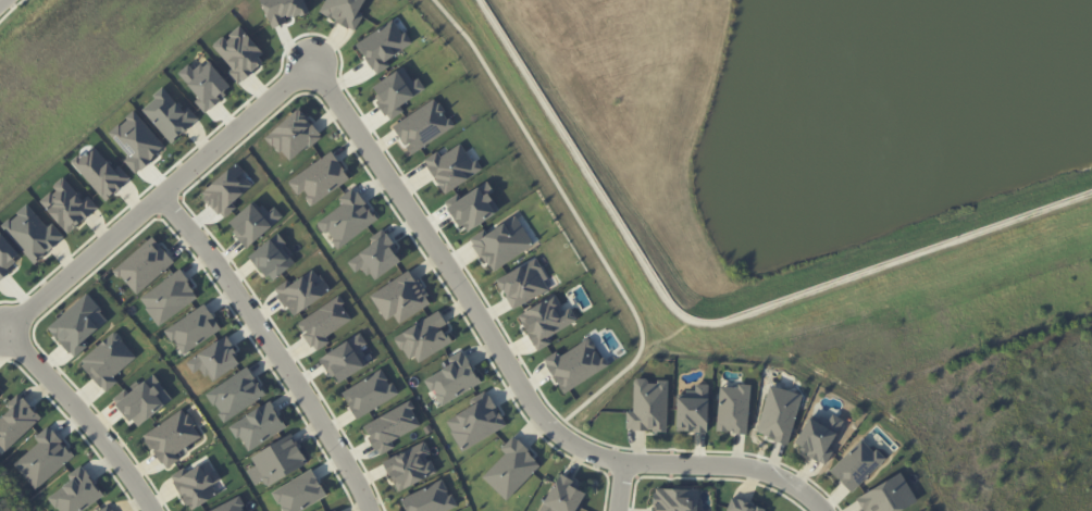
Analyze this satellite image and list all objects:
building: (344, 11)
building: (383, 45)
building: (239, 54)
building: (206, 84)
building: (396, 91)
building: (170, 115)
building: (423, 125)
building: (294, 135)
building: (137, 140)
building: (452, 166)
building: (101, 172)
building: (320, 178)
building: (227, 190)
building: (67, 204)
building: (474, 207)
building: (347, 219)
road: (585, 220)
building: (253, 222)
building: (32, 232)
building: (502, 242)
building: (5, 255)
building: (273, 257)
building: (376, 257)
building: (145, 265)
road: (64, 273)
building: (523, 284)
building: (302, 291)
dam: (731, 291)
building: (170, 297)
building: (401, 297)
building: (546, 321)
building: (324, 322)
road: (708, 322)
building: (78, 324)
building: (194, 328)
building: (424, 337)
road: (273, 347)
building: (346, 358)
building: (215, 359)
building: (108, 361)
building: (575, 364)
road: (513, 369)
building: (454, 378)
building: (370, 392)
building: (0, 394)
building: (236, 394)
building: (144, 400)
building: (648, 406)
building: (733, 408)
building: (693, 410)
building: (779, 413)
building: (16, 421)
building: (476, 421)
building: (259, 426)
building: (392, 426)
building: (818, 436)
building: (172, 437)
building: (44, 458)
building: (280, 459)
building: (856, 464)
building: (410, 466)
building: (511, 469)
building: (197, 484)
road: (619, 486)
building: (76, 493)
building: (300, 493)
building: (563, 496)
building: (889, 496)
building: (430, 498)
building: (675, 499)
building: (232, 506)
building: (744, 506)
building: (107, 508)
building: (334, 510)

